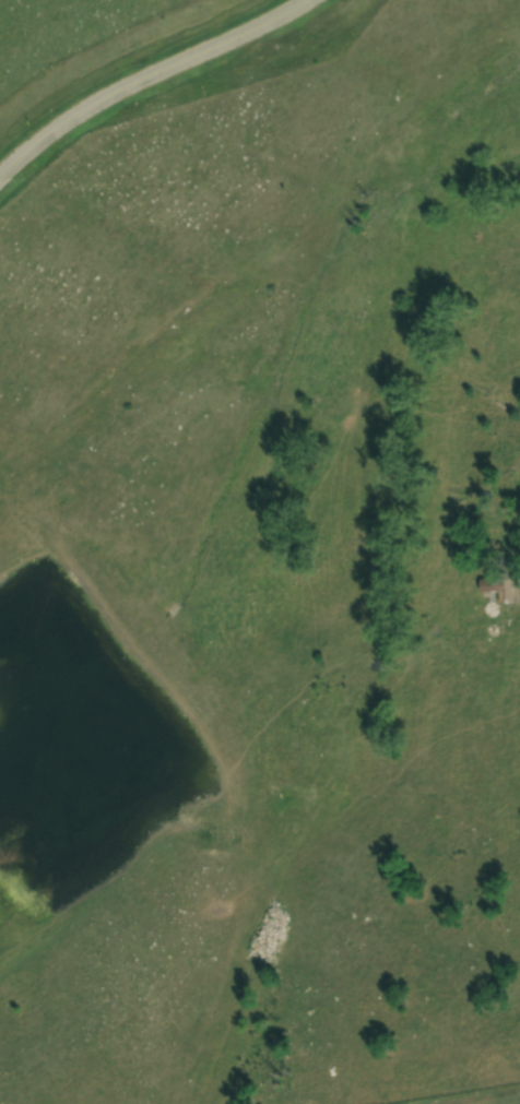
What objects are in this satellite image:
road: (151, 76)
building: (501, 589)

